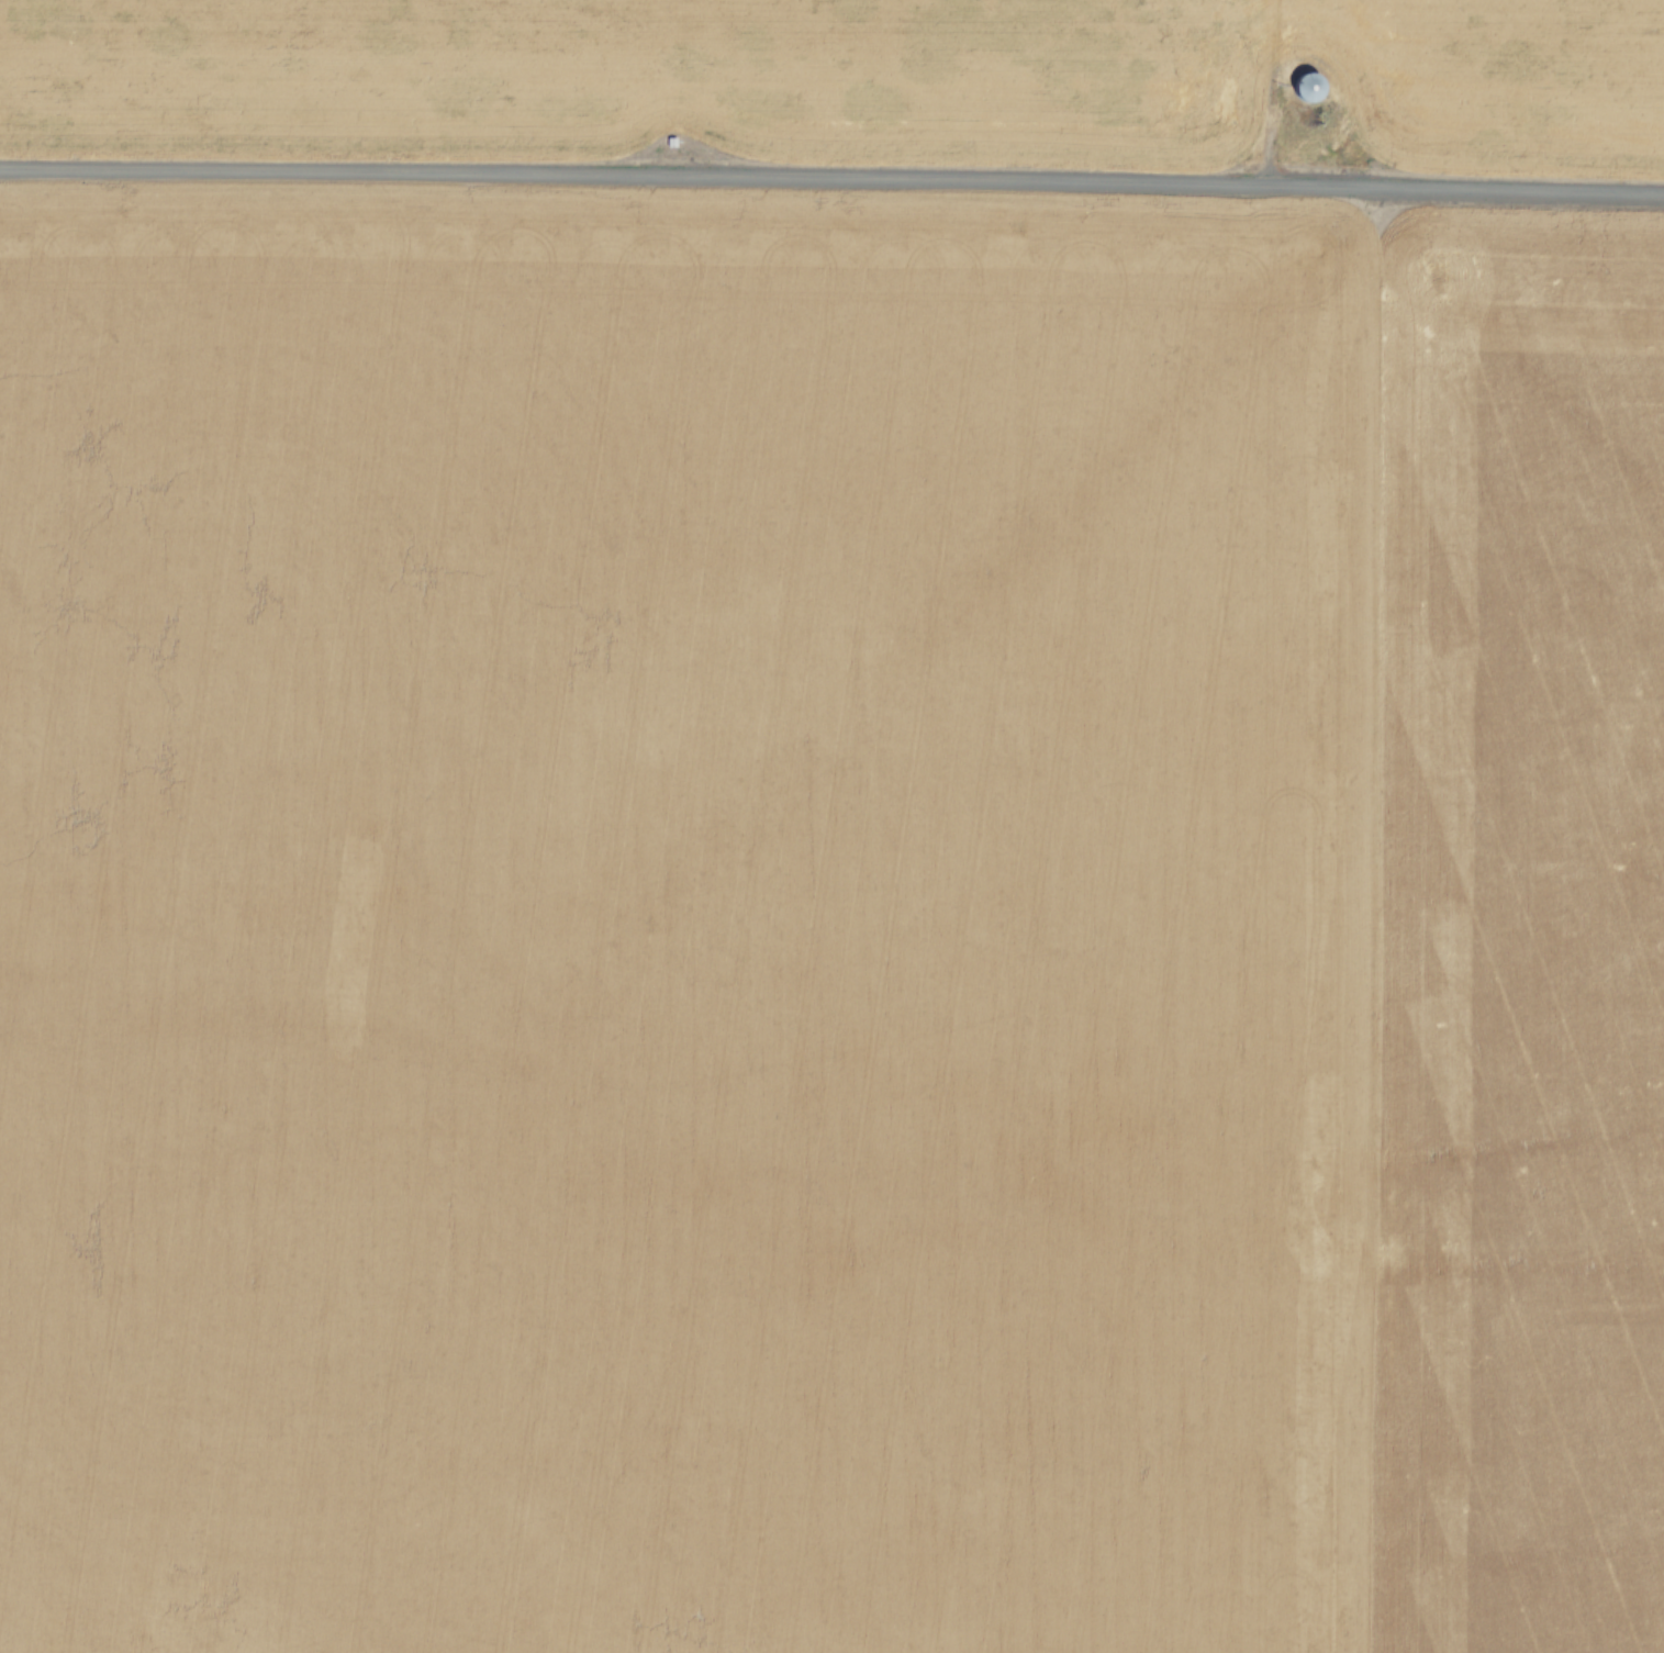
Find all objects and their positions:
building: (1307, 85)
road: (1267, 91)
road: (831, 180)

